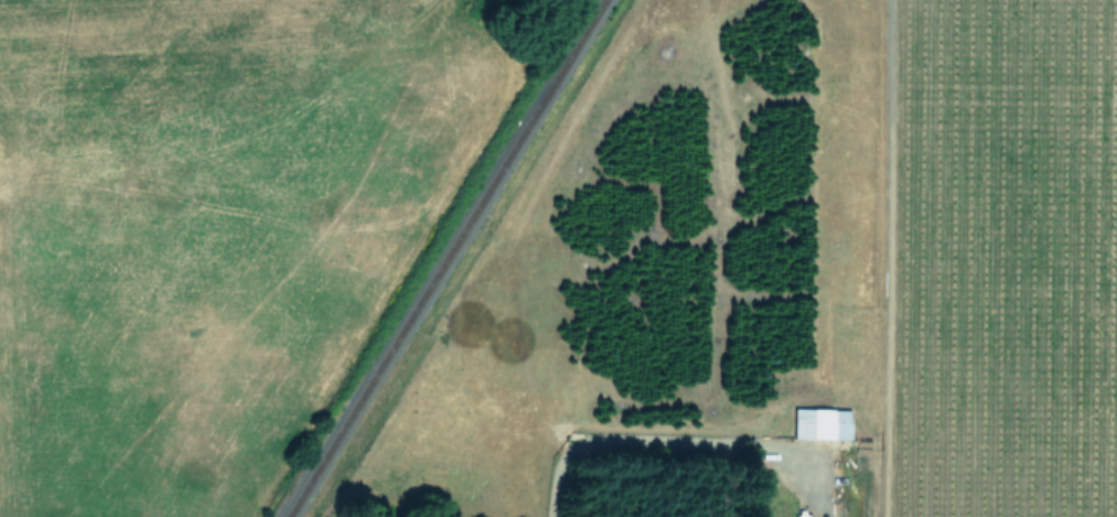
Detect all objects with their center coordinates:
crop: (569, 252)
railway: (443, 258)
crop: (53, 480)

